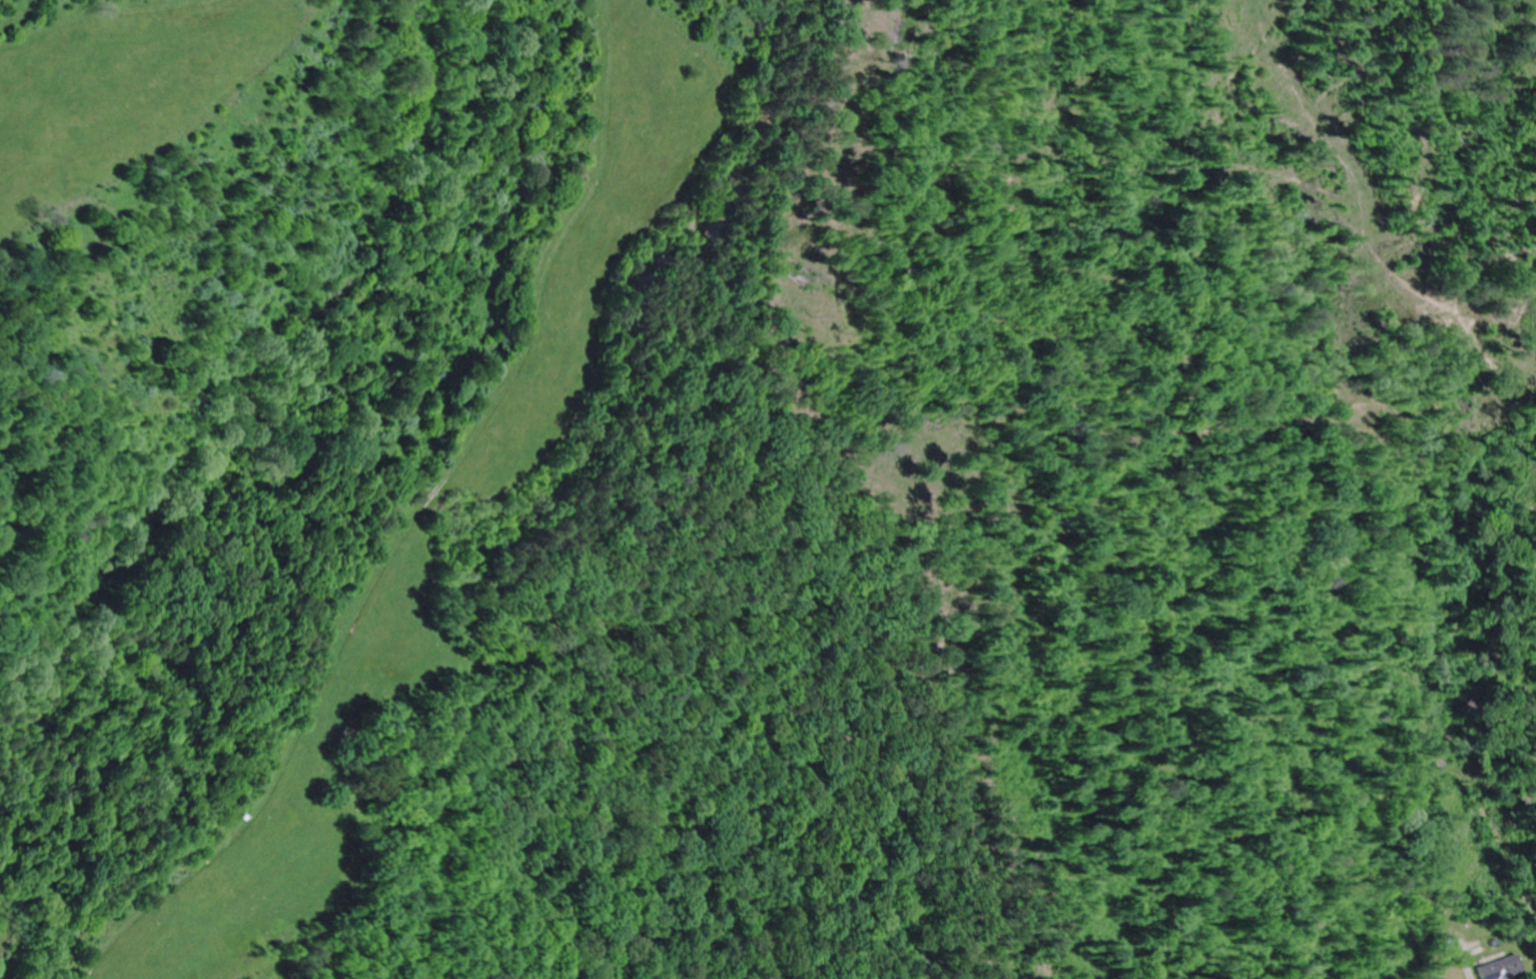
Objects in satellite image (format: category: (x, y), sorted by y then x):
building: (1502, 968)

